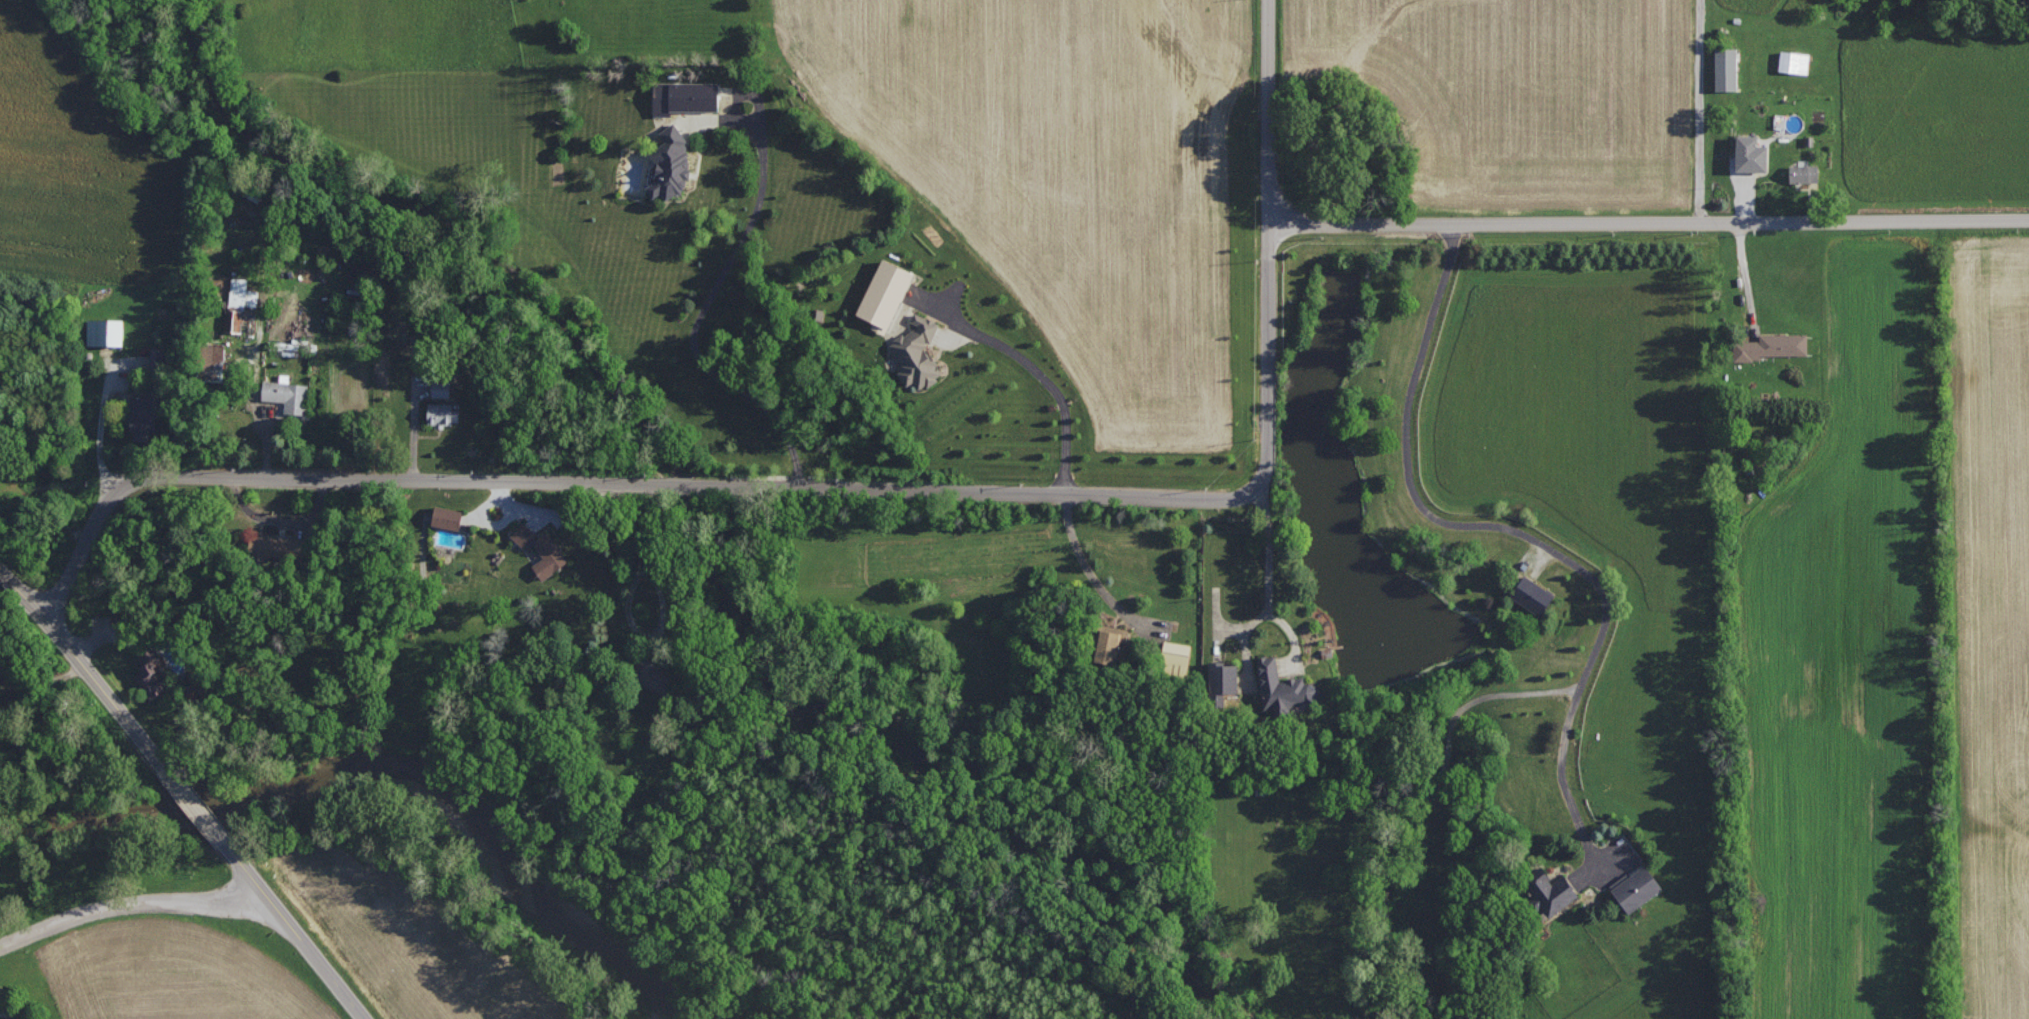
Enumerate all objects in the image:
building: (1794, 61)
building: (1726, 68)
building: (686, 96)
road: (1267, 110)
road: (1695, 110)
building: (1751, 153)
building: (672, 165)
building: (1803, 173)
road: (1648, 220)
road: (1748, 270)
building: (242, 292)
building: (885, 294)
road: (704, 310)
building: (233, 320)
building: (106, 331)
building: (1771, 345)
building: (917, 352)
building: (158, 357)
building: (215, 361)
road: (1043, 374)
building: (441, 387)
building: (287, 393)
building: (442, 413)
road: (104, 414)
building: (143, 416)
road: (749, 486)
building: (448, 516)
road: (1517, 532)
building: (278, 546)
building: (542, 549)
road: (1082, 556)
road: (1268, 589)
road: (661, 594)
building: (1533, 594)
building: (1109, 643)
building: (1176, 651)
road: (82, 664)
building: (151, 673)
building: (653, 675)
building: (1223, 680)
road: (36, 685)
building: (1282, 687)
road: (191, 802)
building: (1636, 887)
building: (1550, 890)
road: (126, 902)
road: (291, 931)

